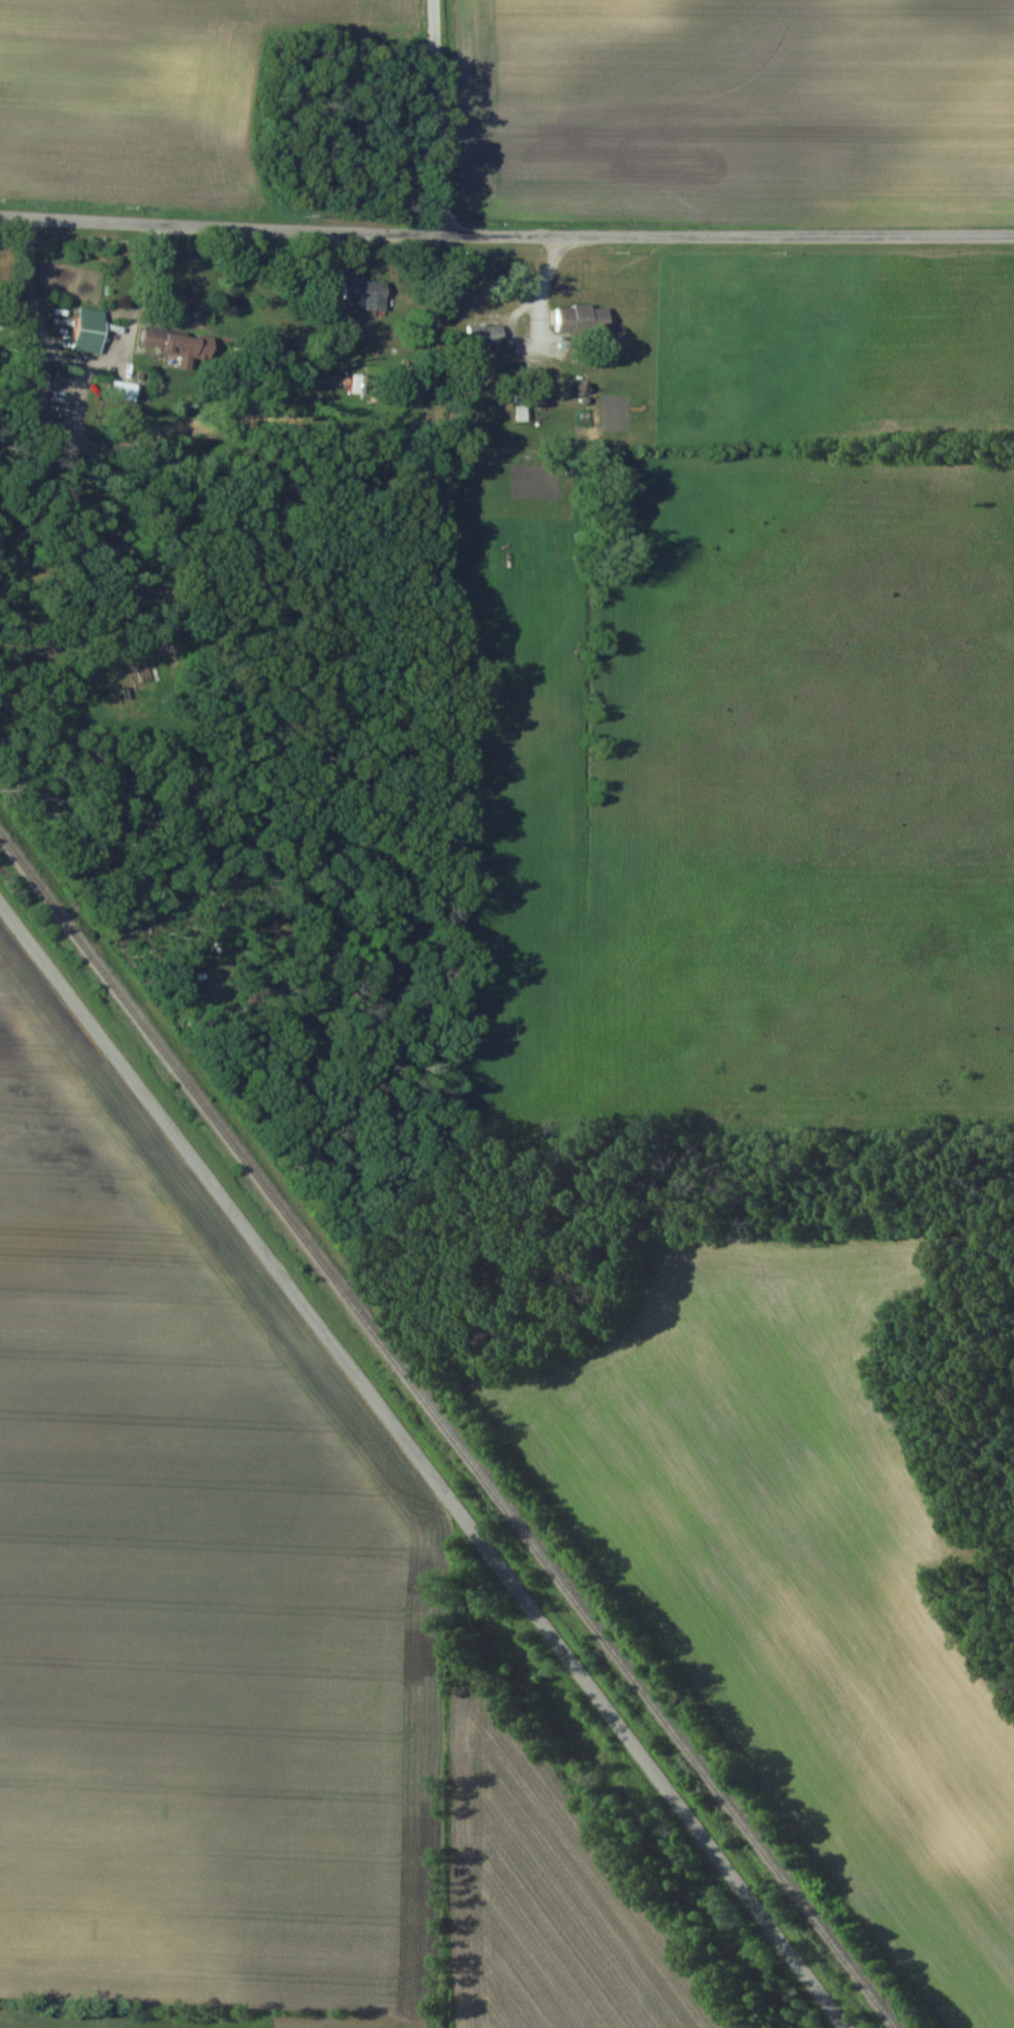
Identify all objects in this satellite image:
road: (441, 114)
road: (506, 227)
building: (365, 293)
building: (577, 319)
building: (85, 330)
building: (482, 333)
railway: (449, 1431)
road: (424, 1465)

